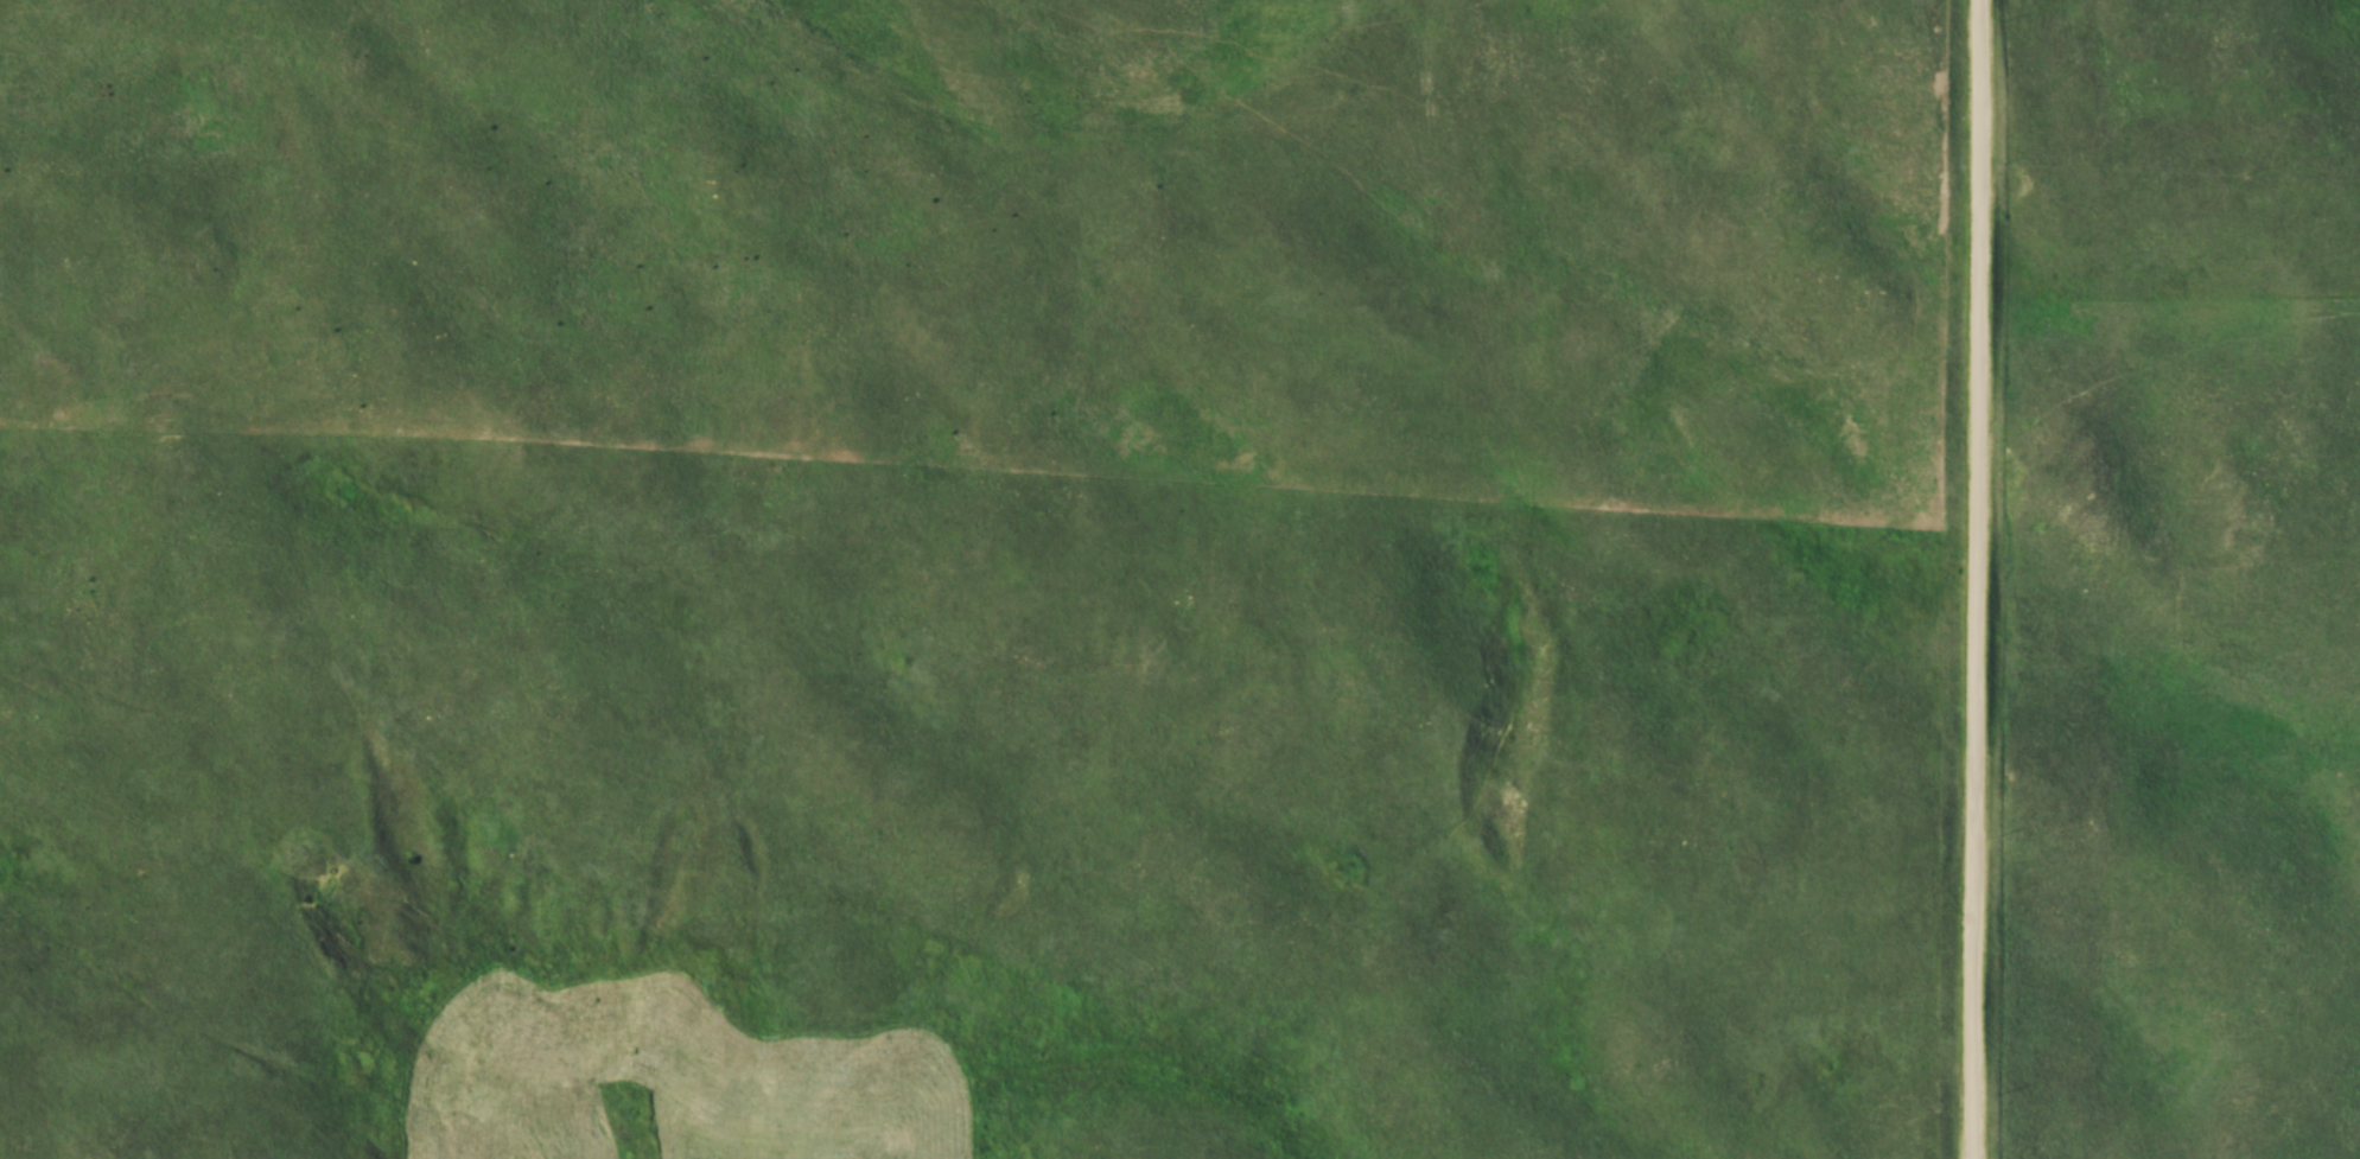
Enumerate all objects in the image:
road: (1977, 579)

